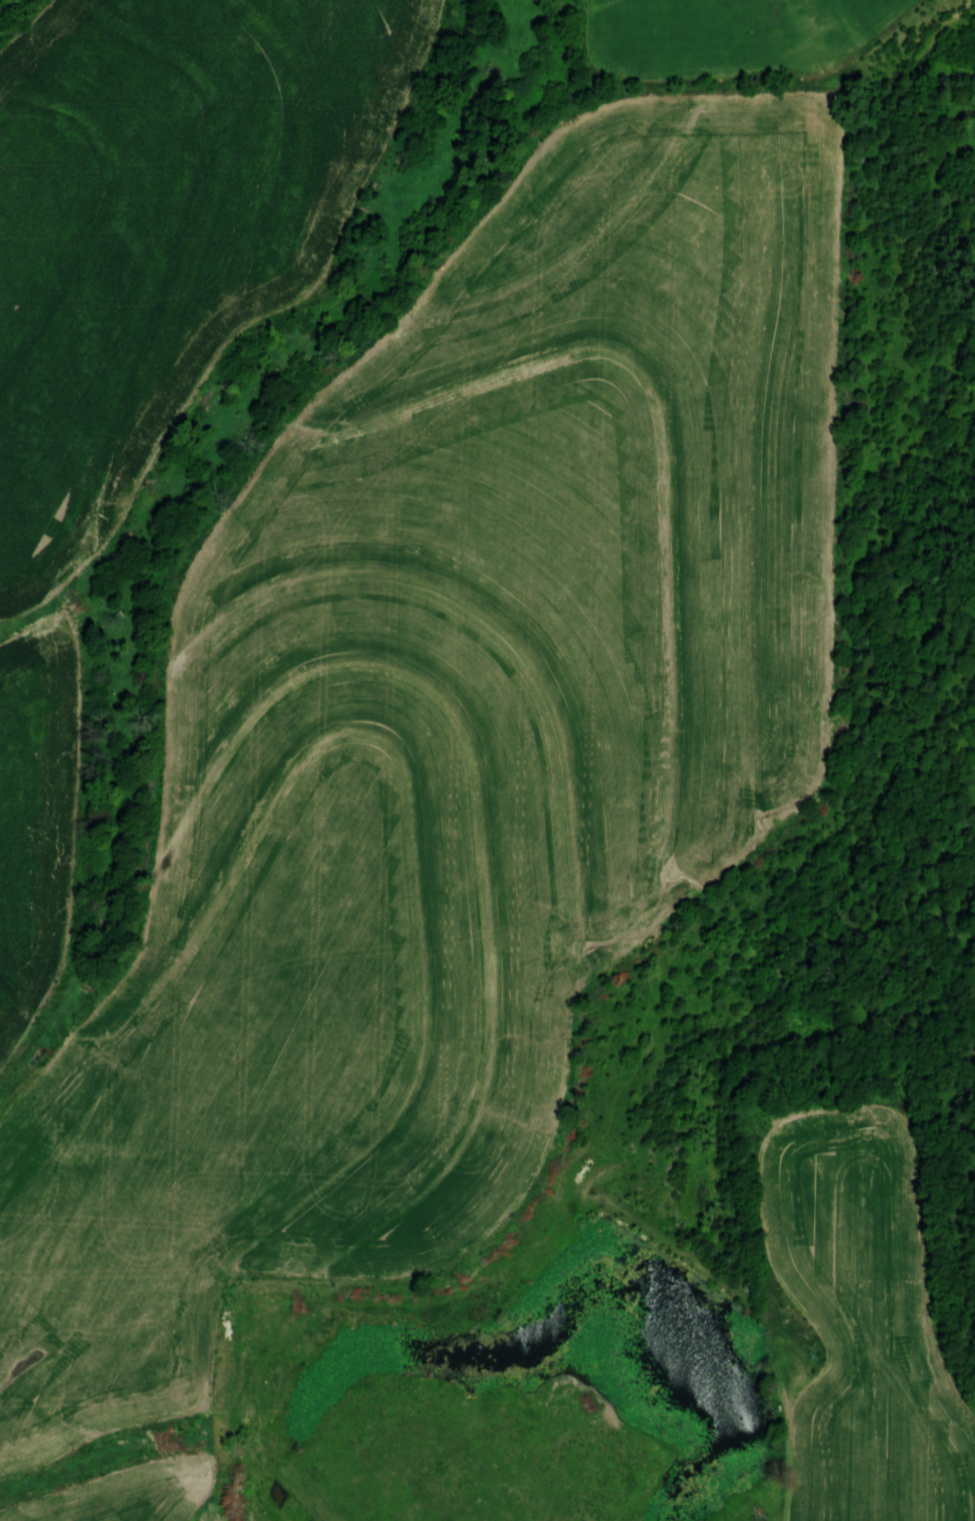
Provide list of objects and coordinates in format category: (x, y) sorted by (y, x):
crop: (863, 1319)

